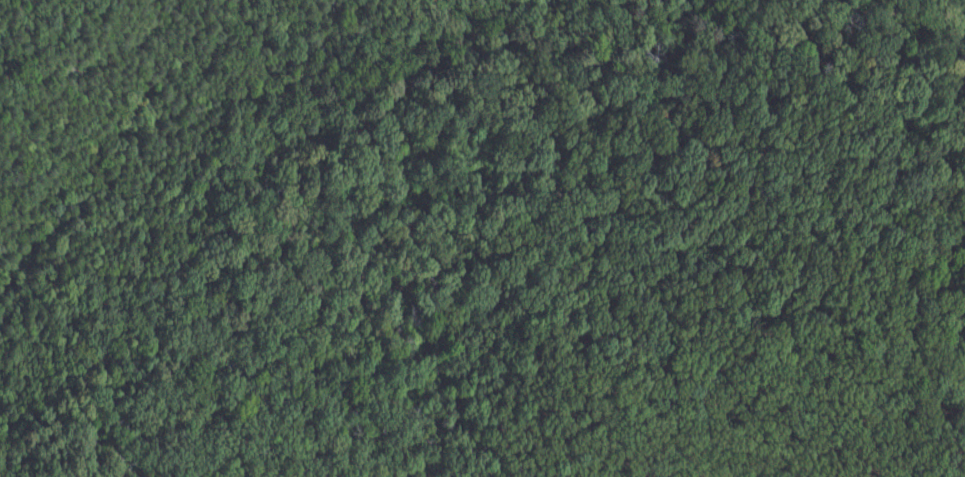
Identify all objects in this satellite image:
road: (578, 458)

